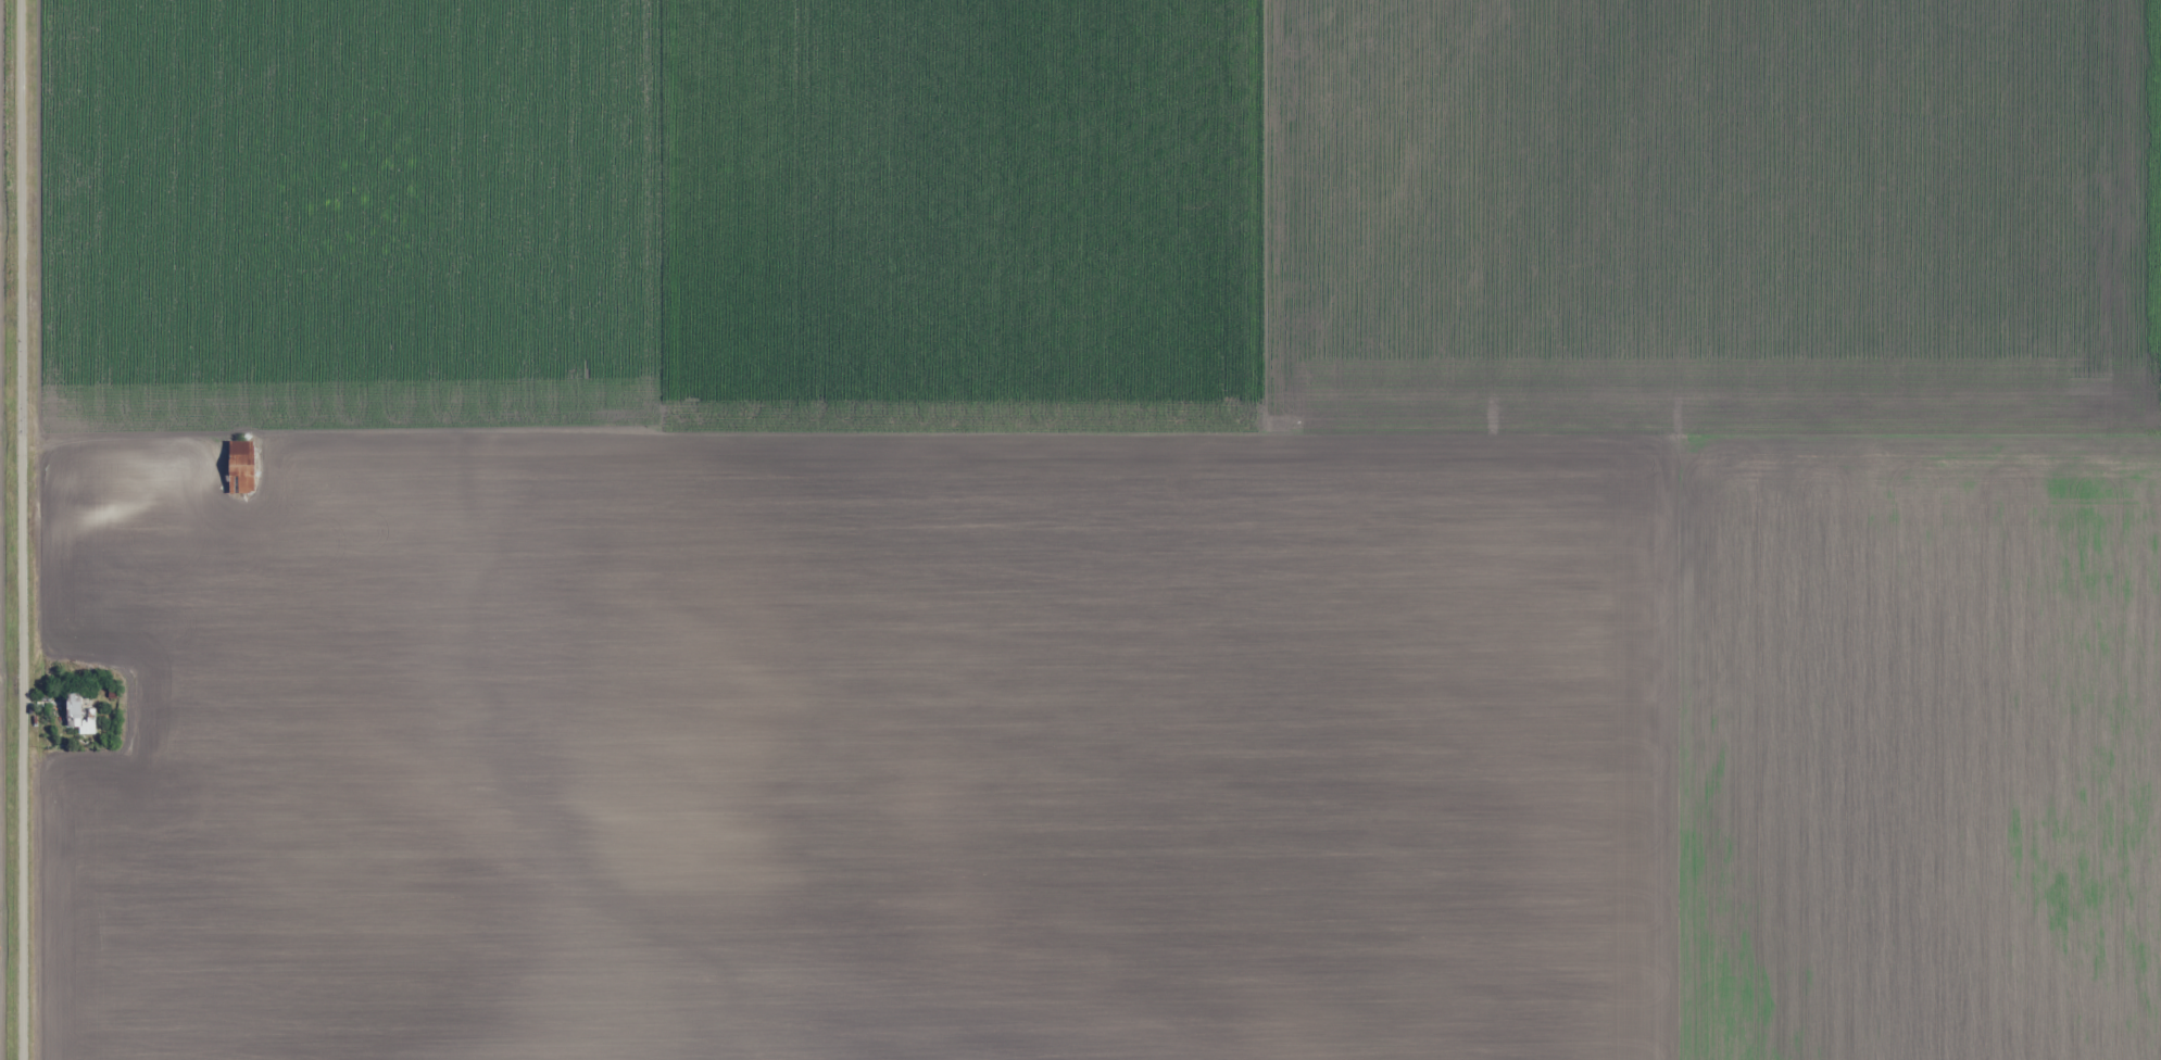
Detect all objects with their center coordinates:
building: (240, 467)
building: (2109, 505)
road: (23, 529)
building: (77, 715)

